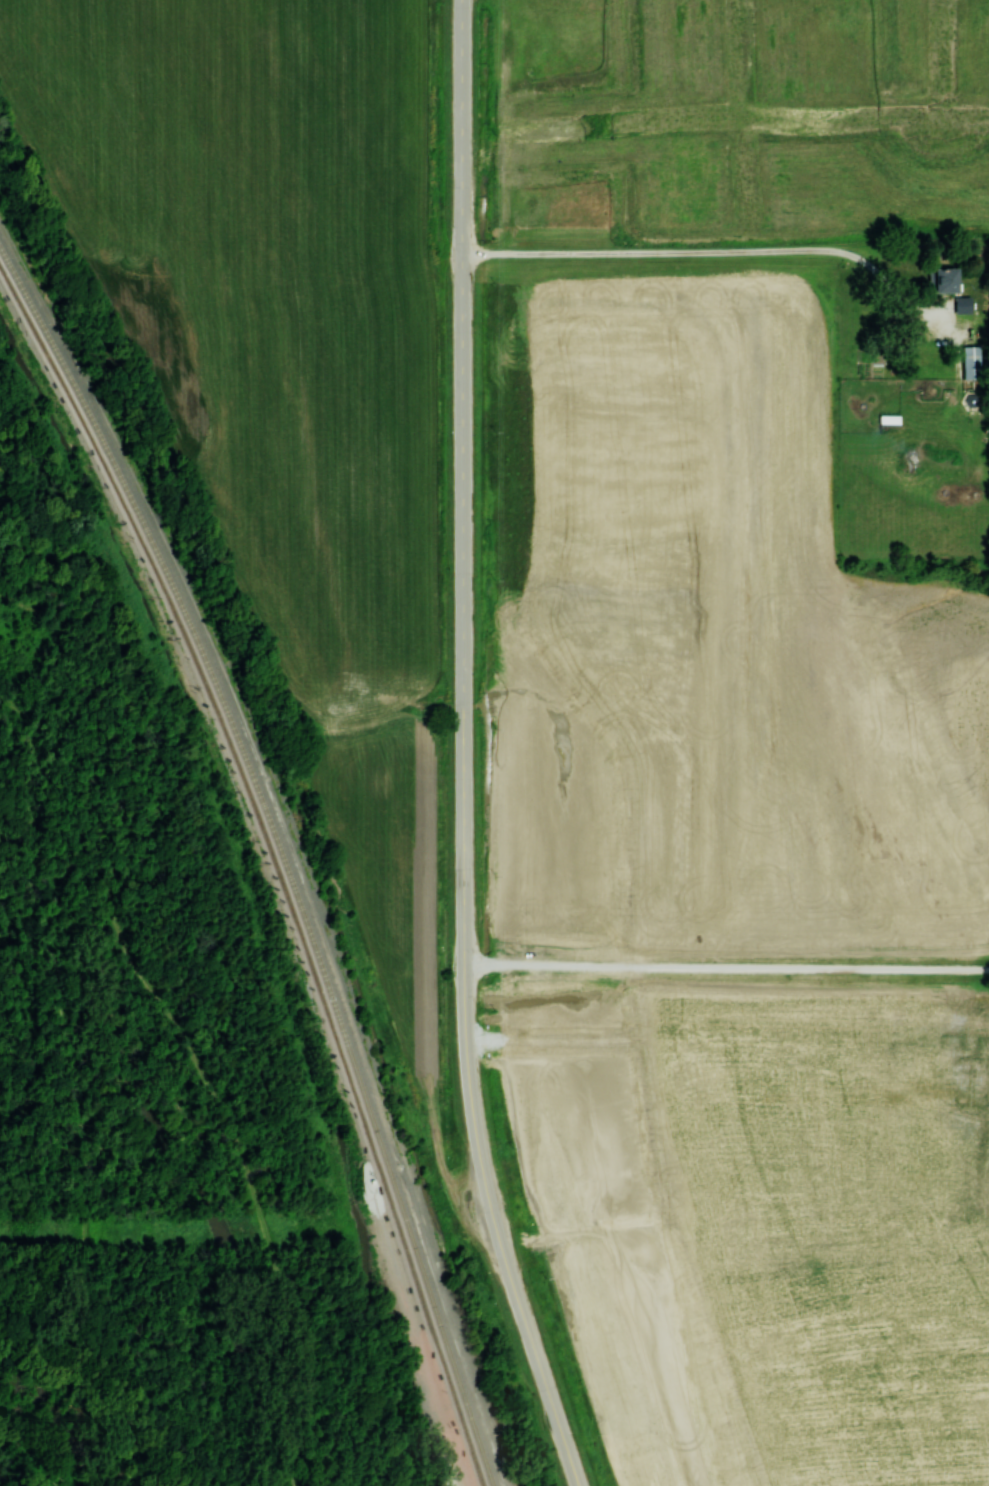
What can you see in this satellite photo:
road: (718, 250)
building: (943, 279)
building: (963, 303)
park: (72, 338)
road: (463, 483)
railway: (283, 849)
railway: (275, 862)
road: (726, 964)
road: (69, 1090)
park: (361, 1124)
road: (496, 1231)
road: (88, 1397)

